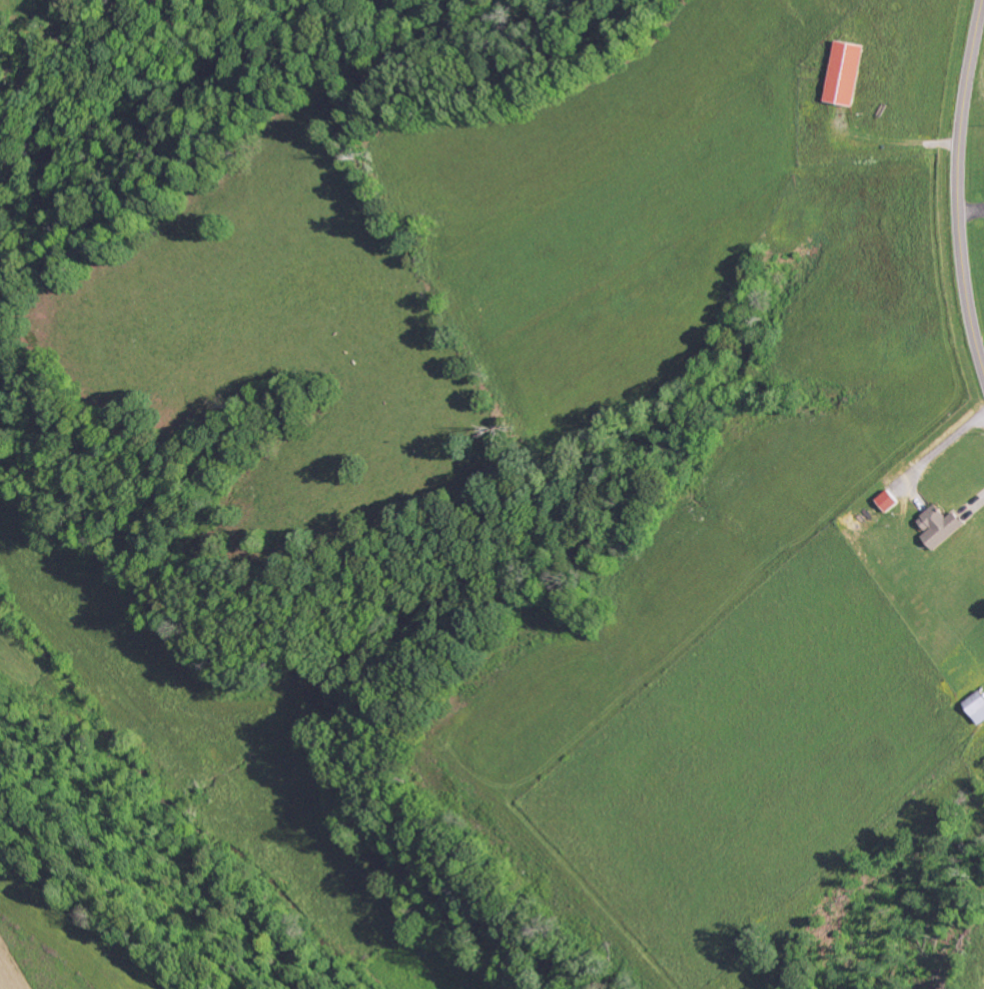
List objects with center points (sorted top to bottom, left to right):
building: (849, 72)
road: (959, 186)
building: (891, 501)
building: (943, 526)
building: (978, 706)

